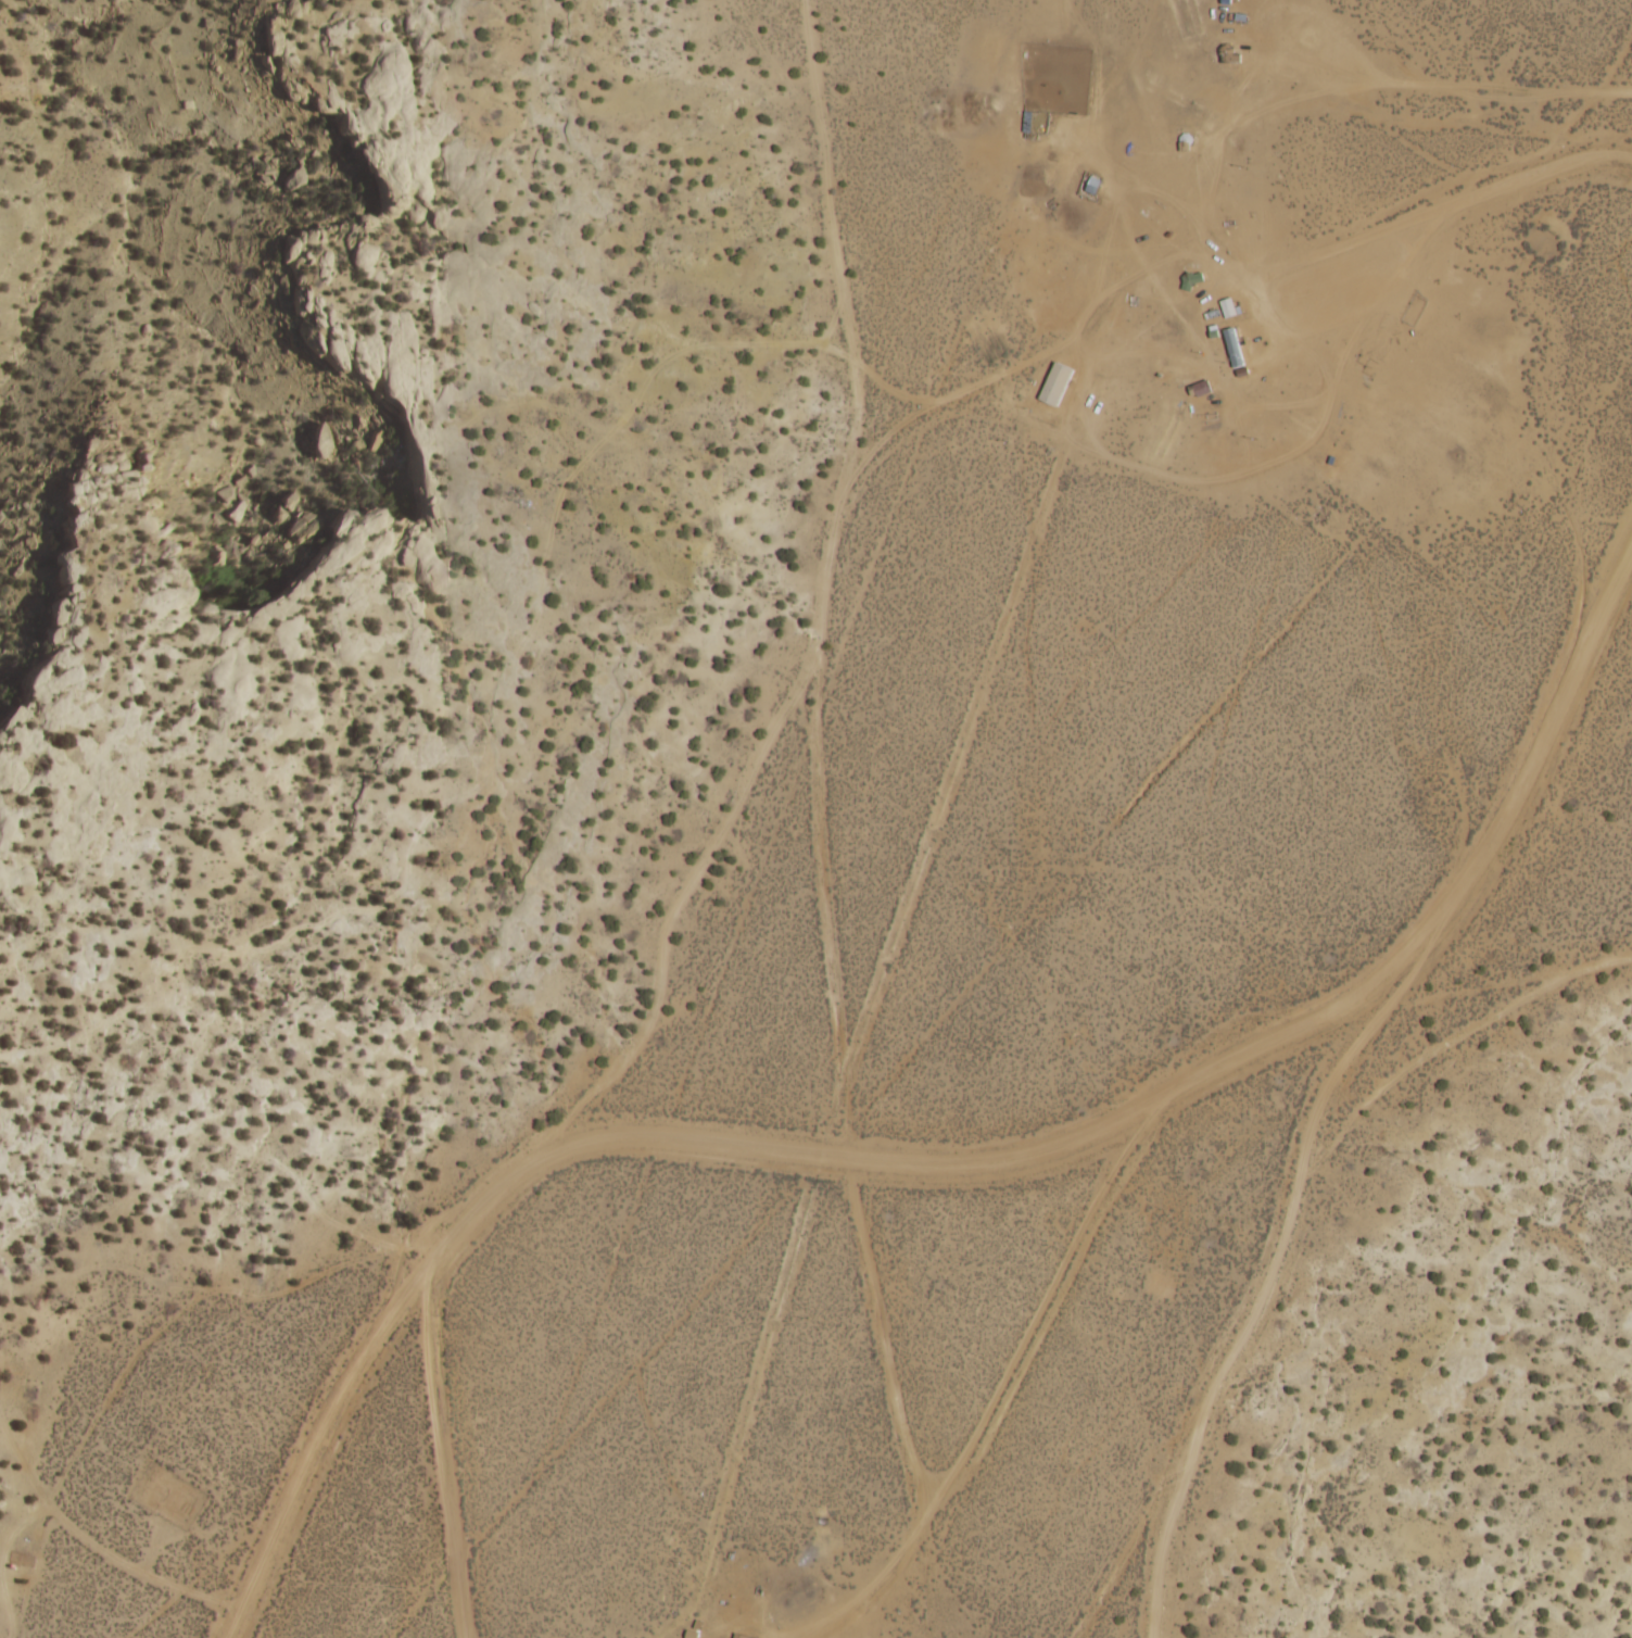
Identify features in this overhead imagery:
road: (1166, 33)
building: (1226, 55)
road: (1616, 60)
road: (1359, 85)
building: (1030, 123)
road: (1125, 171)
road: (1414, 216)
building: (1225, 308)
building: (1229, 348)
road: (1023, 361)
building: (1198, 389)
road: (894, 391)
building: (1039, 396)
road: (815, 761)
road: (1456, 1035)
road: (555, 1127)
road: (926, 1164)
road: (1276, 1252)
road: (876, 1585)
building: (738, 1637)

